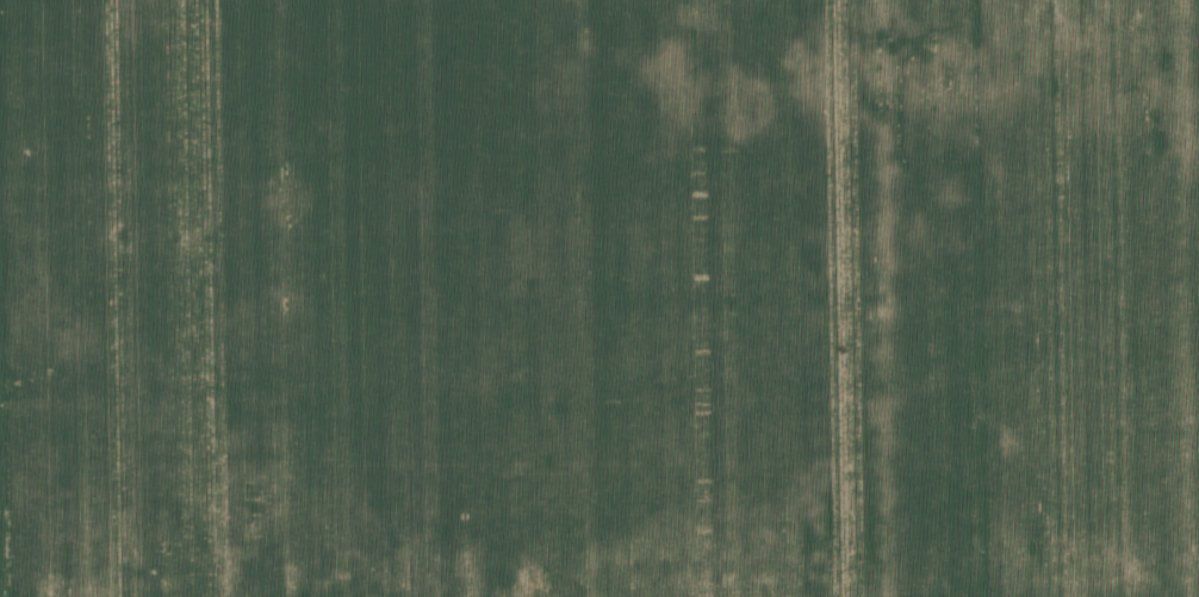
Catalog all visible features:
crop: (599, 298)

